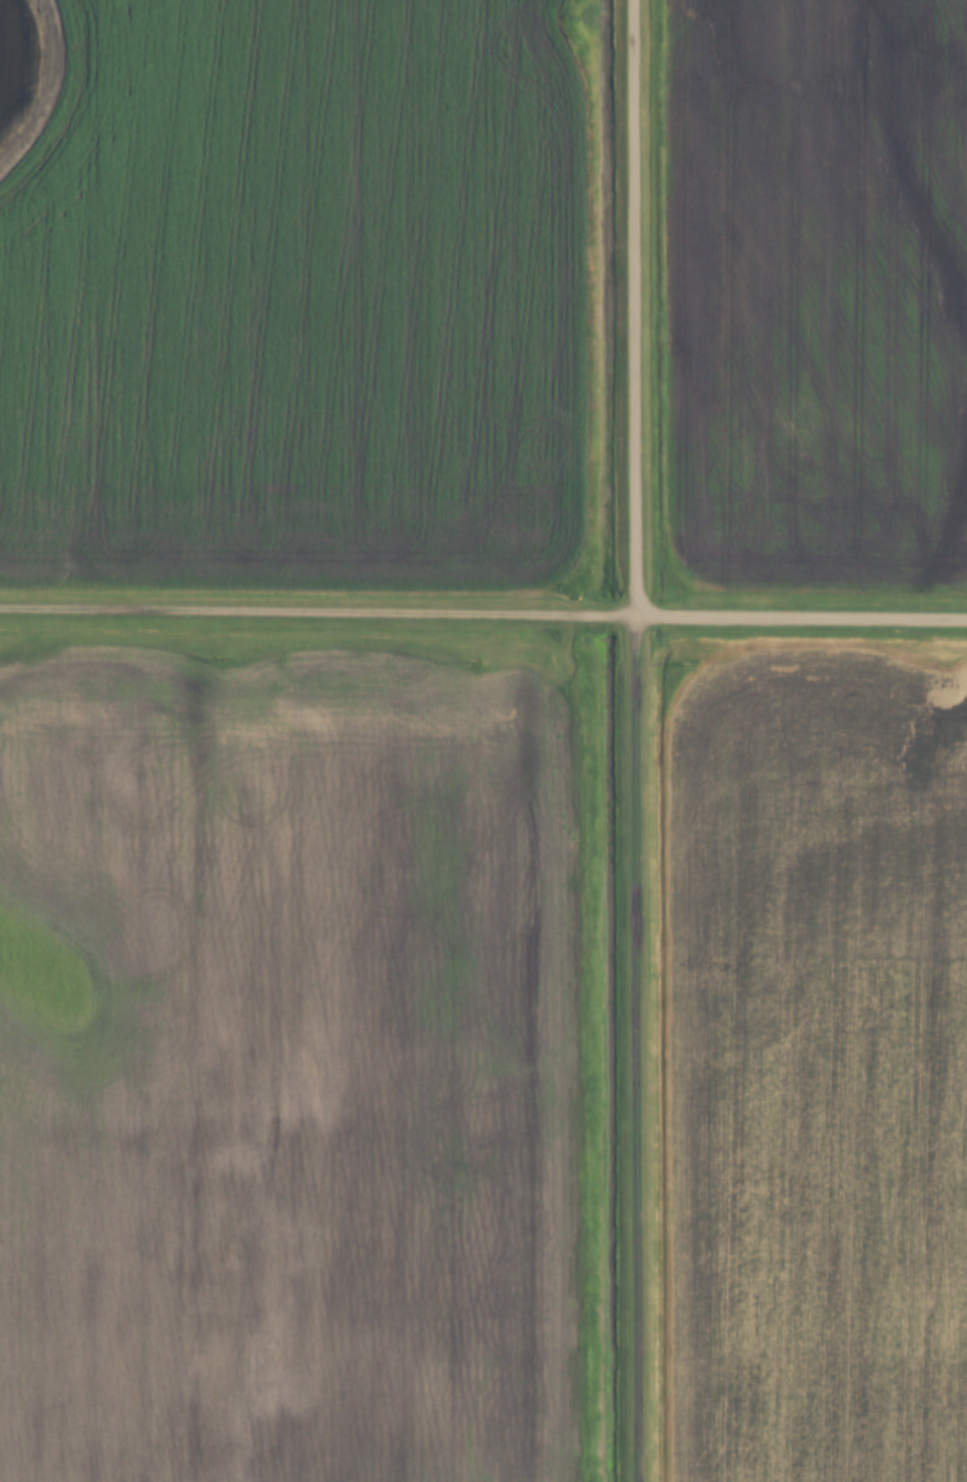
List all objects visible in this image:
road: (638, 306)
road: (319, 609)
road: (802, 615)
road: (639, 1047)

